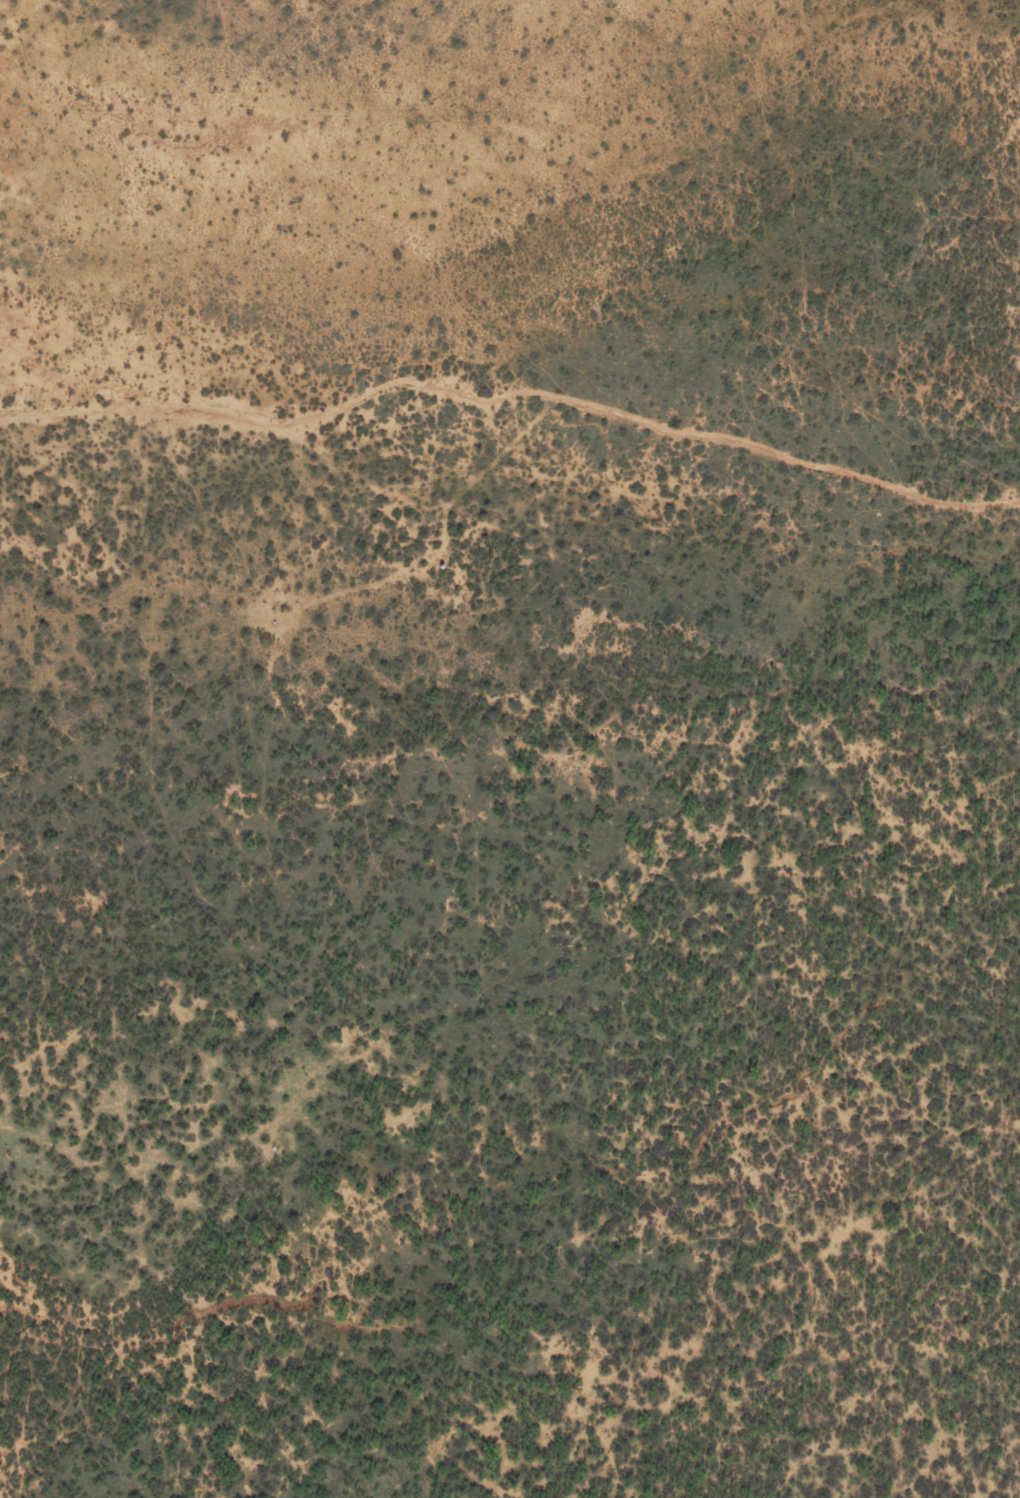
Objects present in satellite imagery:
road: (876, 1350)

